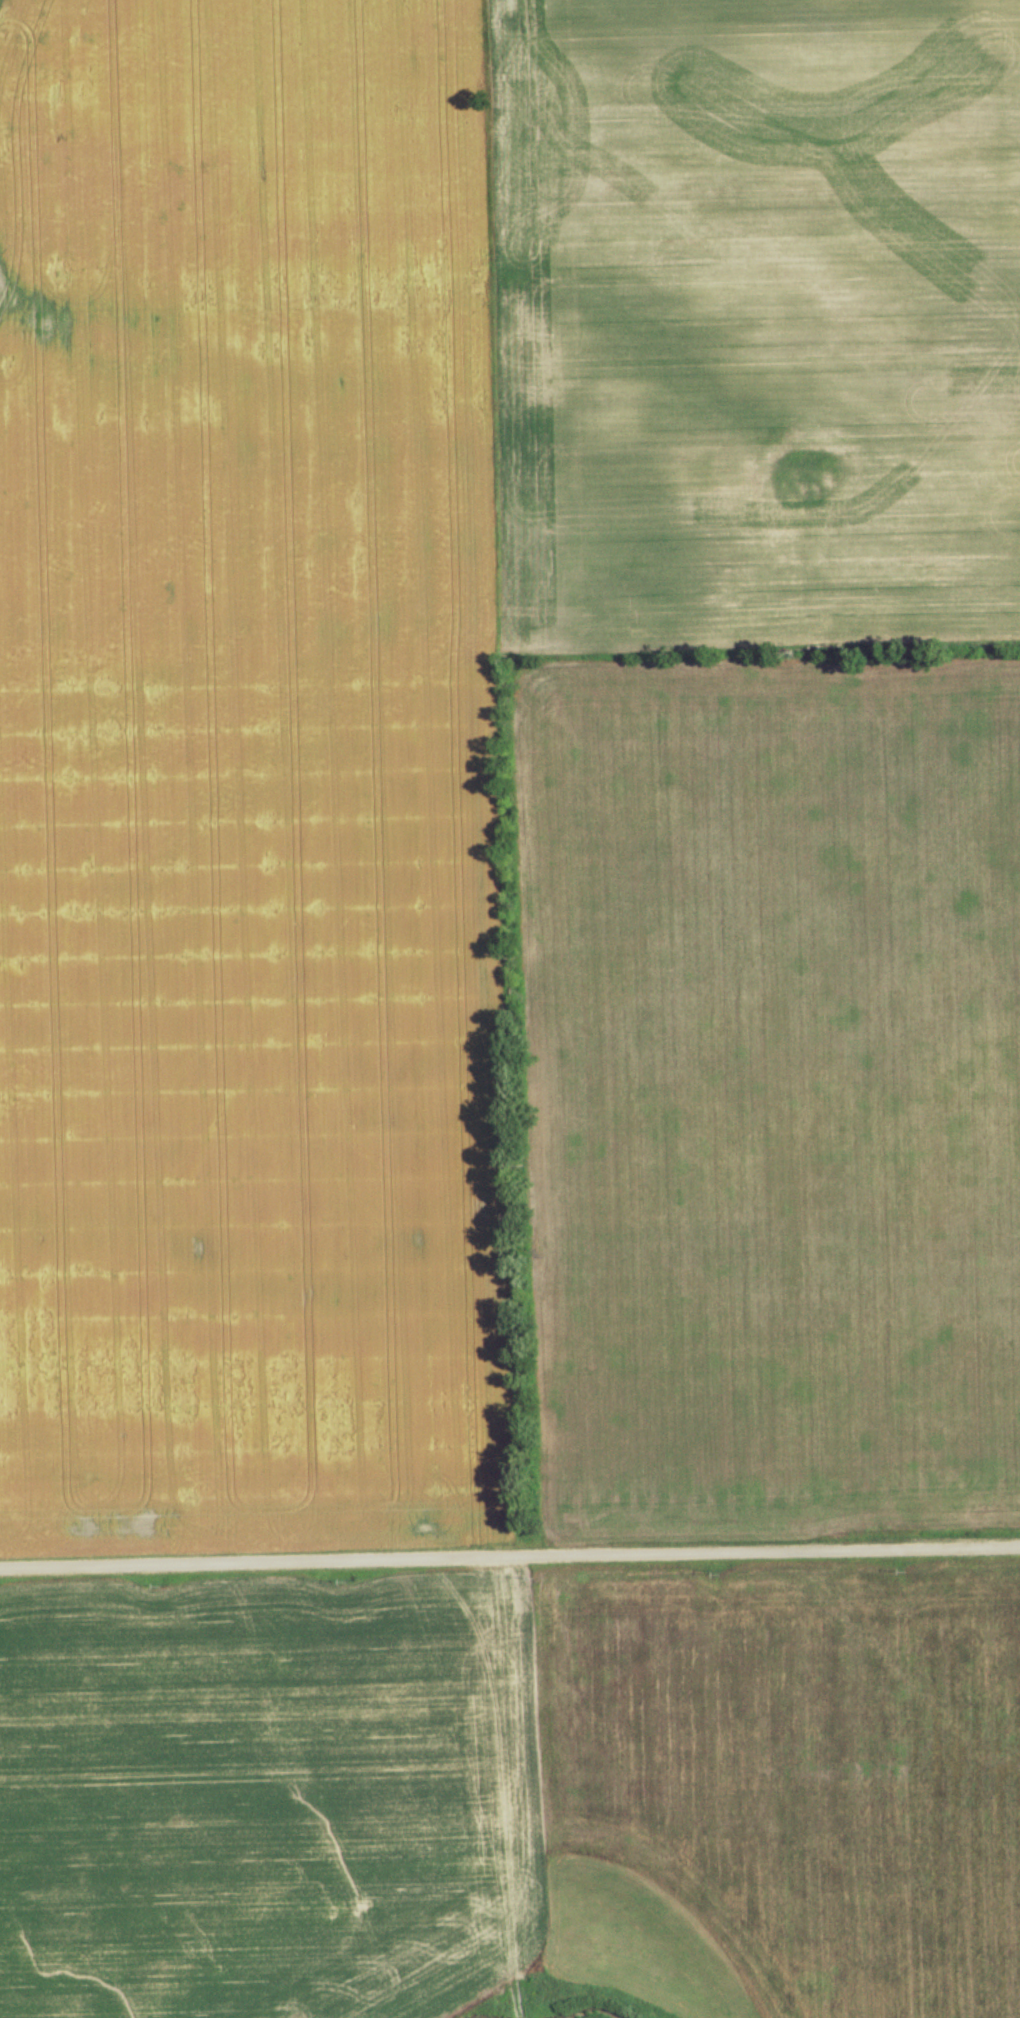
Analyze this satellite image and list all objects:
road: (510, 1557)

